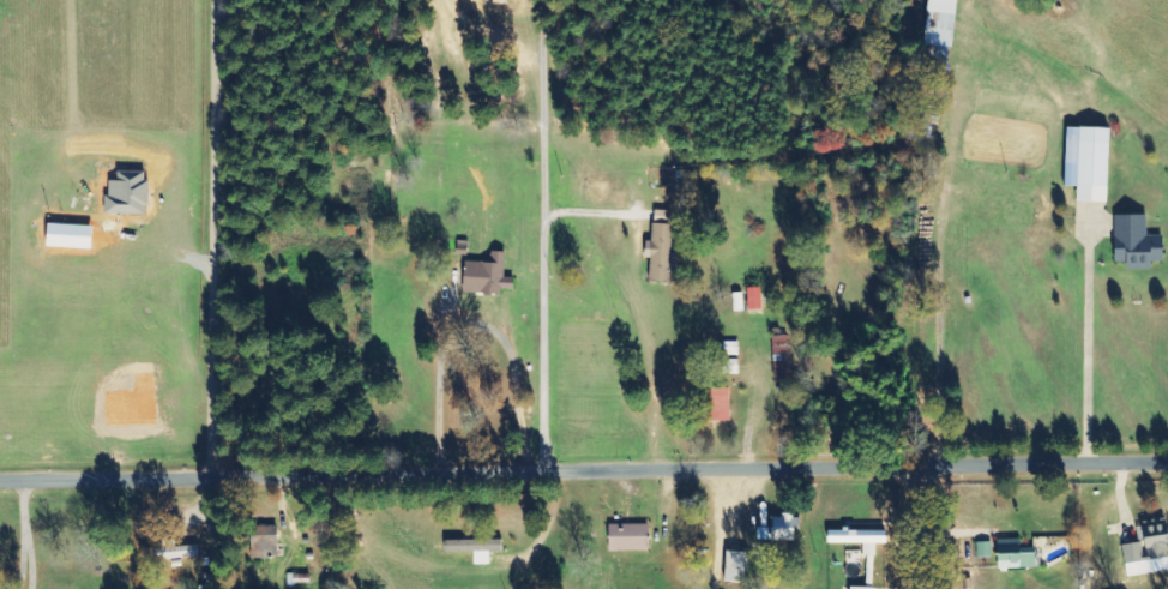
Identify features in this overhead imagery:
building: (939, 23)
building: (1090, 162)
building: (1136, 242)
building: (662, 246)
building: (488, 276)
building: (754, 299)
building: (730, 348)
building: (781, 357)
building: (717, 404)
road: (584, 469)
road: (928, 525)
building: (779, 529)
road: (440, 530)
building: (628, 537)
building: (860, 539)
building: (264, 541)
building: (475, 548)
building: (983, 549)
building: (1148, 551)
building: (168, 553)
building: (1015, 555)
building: (737, 566)
building: (296, 579)
building: (861, 588)

